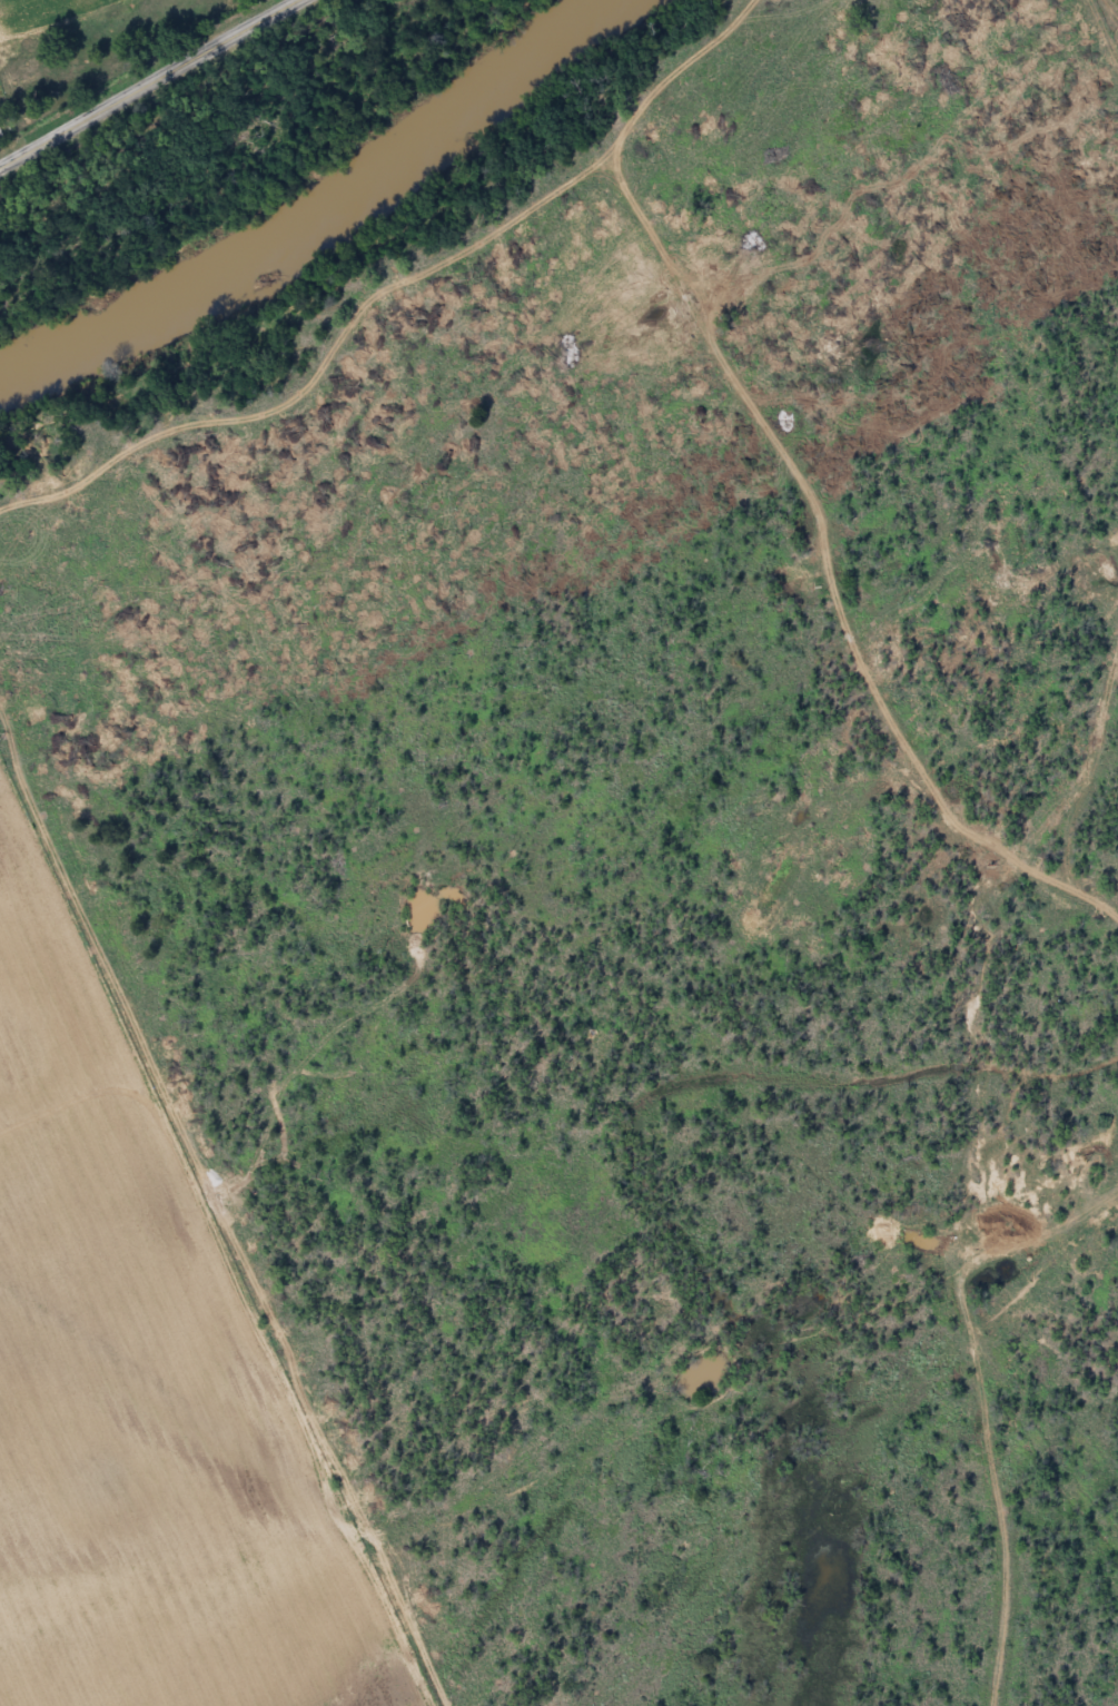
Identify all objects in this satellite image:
road: (1099, 60)
road: (156, 87)
river: (319, 217)
road: (976, 1205)
road: (1002, 1515)

